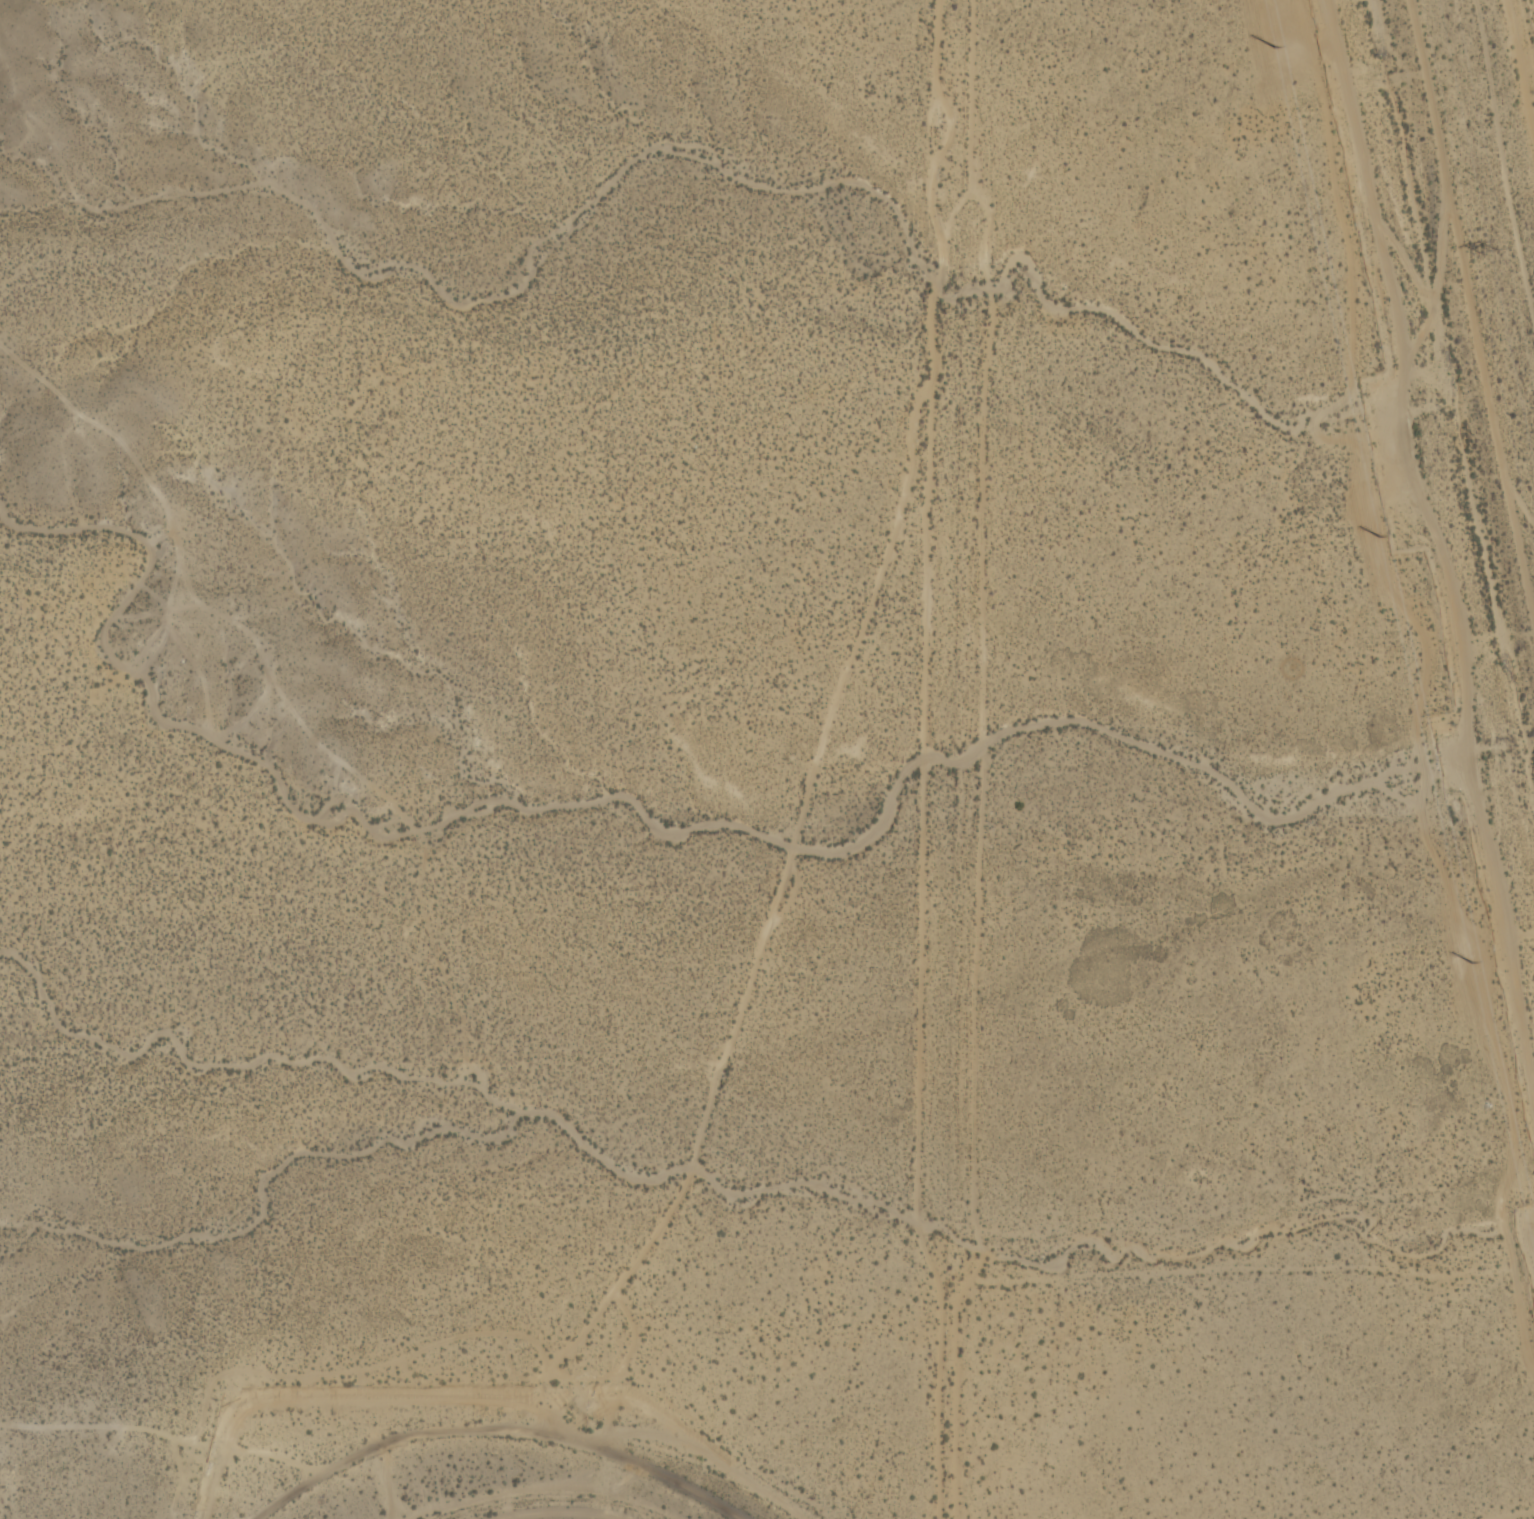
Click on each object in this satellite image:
power tower: (1275, 45)
power tower: (1491, 254)
power tower: (1380, 536)
power tower: (1471, 958)

